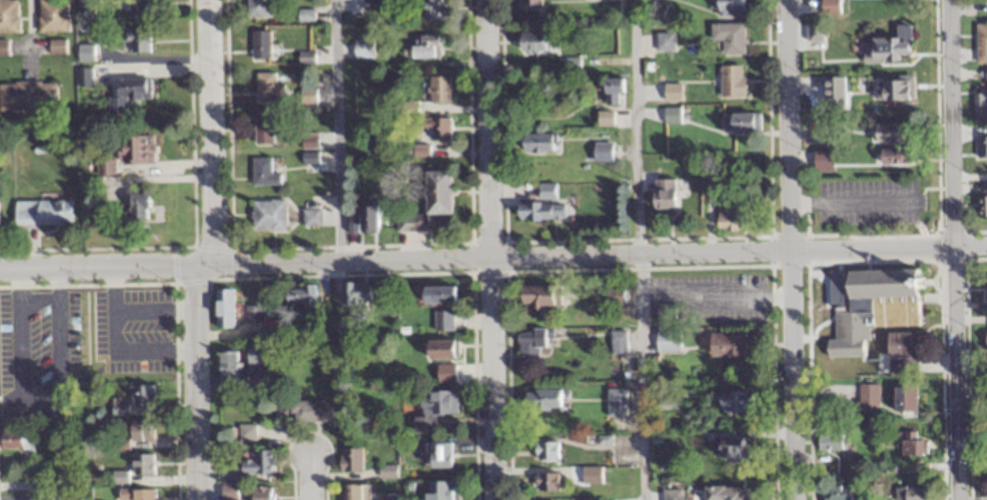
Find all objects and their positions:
building: (528, 3)
building: (137, 7)
building: (257, 7)
building: (829, 7)
building: (730, 8)
building: (431, 10)
building: (52, 16)
building: (8, 17)
building: (729, 38)
building: (135, 42)
building: (531, 42)
building: (664, 42)
building: (981, 43)
building: (259, 45)
building: (892, 46)
building: (56, 47)
building: (427, 47)
building: (362, 48)
building: (84, 53)
building: (731, 81)
building: (267, 88)
building: (438, 89)
building: (612, 91)
building: (894, 92)
building: (672, 93)
building: (126, 95)
building: (306, 96)
building: (28, 97)
building: (980, 105)
building: (671, 116)
building: (604, 118)
building: (740, 122)
building: (435, 127)
building: (261, 129)
building: (892, 134)
building: (537, 143)
building: (981, 147)
building: (134, 150)
building: (420, 150)
building: (601, 152)
building: (896, 156)
building: (824, 160)
building: (103, 168)
road: (333, 168)
building: (261, 172)
building: (545, 191)
building: (437, 193)
building: (663, 196)
building: (985, 199)
building: (136, 207)
building: (41, 212)
building: (539, 212)
building: (266, 215)
building: (309, 217)
building: (362, 217)
building: (730, 219)
building: (409, 222)
road: (639, 249)
road: (790, 249)
road: (954, 249)
road: (206, 250)
road: (489, 250)
road: (493, 257)
building: (985, 291)
building: (358, 294)
building: (299, 295)
building: (438, 296)
building: (613, 296)
building: (538, 298)
building: (874, 303)
building: (222, 308)
building: (251, 314)
building: (442, 321)
building: (352, 325)
building: (530, 342)
building: (616, 342)
building: (666, 342)
building: (986, 344)
building: (729, 346)
building: (899, 347)
building: (440, 350)
building: (259, 355)
building: (226, 367)
building: (867, 395)
building: (139, 396)
road: (36, 399)
building: (904, 399)
building: (541, 401)
building: (615, 403)
building: (736, 404)
building: (433, 410)
building: (313, 412)
building: (140, 430)
building: (245, 432)
building: (829, 442)
building: (17, 443)
building: (911, 445)
building: (732, 450)
building: (546, 452)
building: (439, 457)
building: (349, 460)
building: (257, 463)
building: (141, 464)
building: (386, 472)
building: (590, 476)
road: (307, 477)
building: (545, 483)
building: (438, 491)
building: (355, 492)
building: (837, 492)
building: (260, 493)
building: (910, 493)
building: (134, 494)
building: (726, 494)
building: (387, 497)

